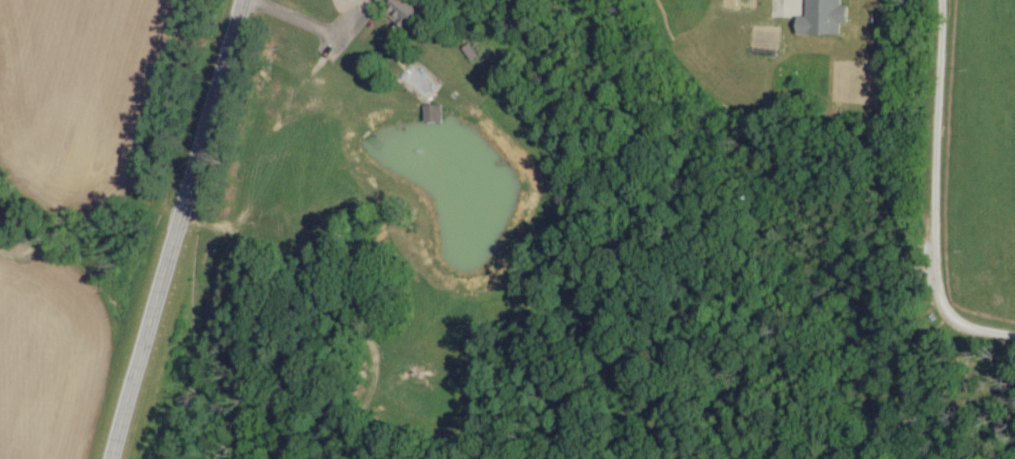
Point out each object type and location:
building: (821, 18)
road: (307, 22)
building: (431, 113)
road: (172, 229)

